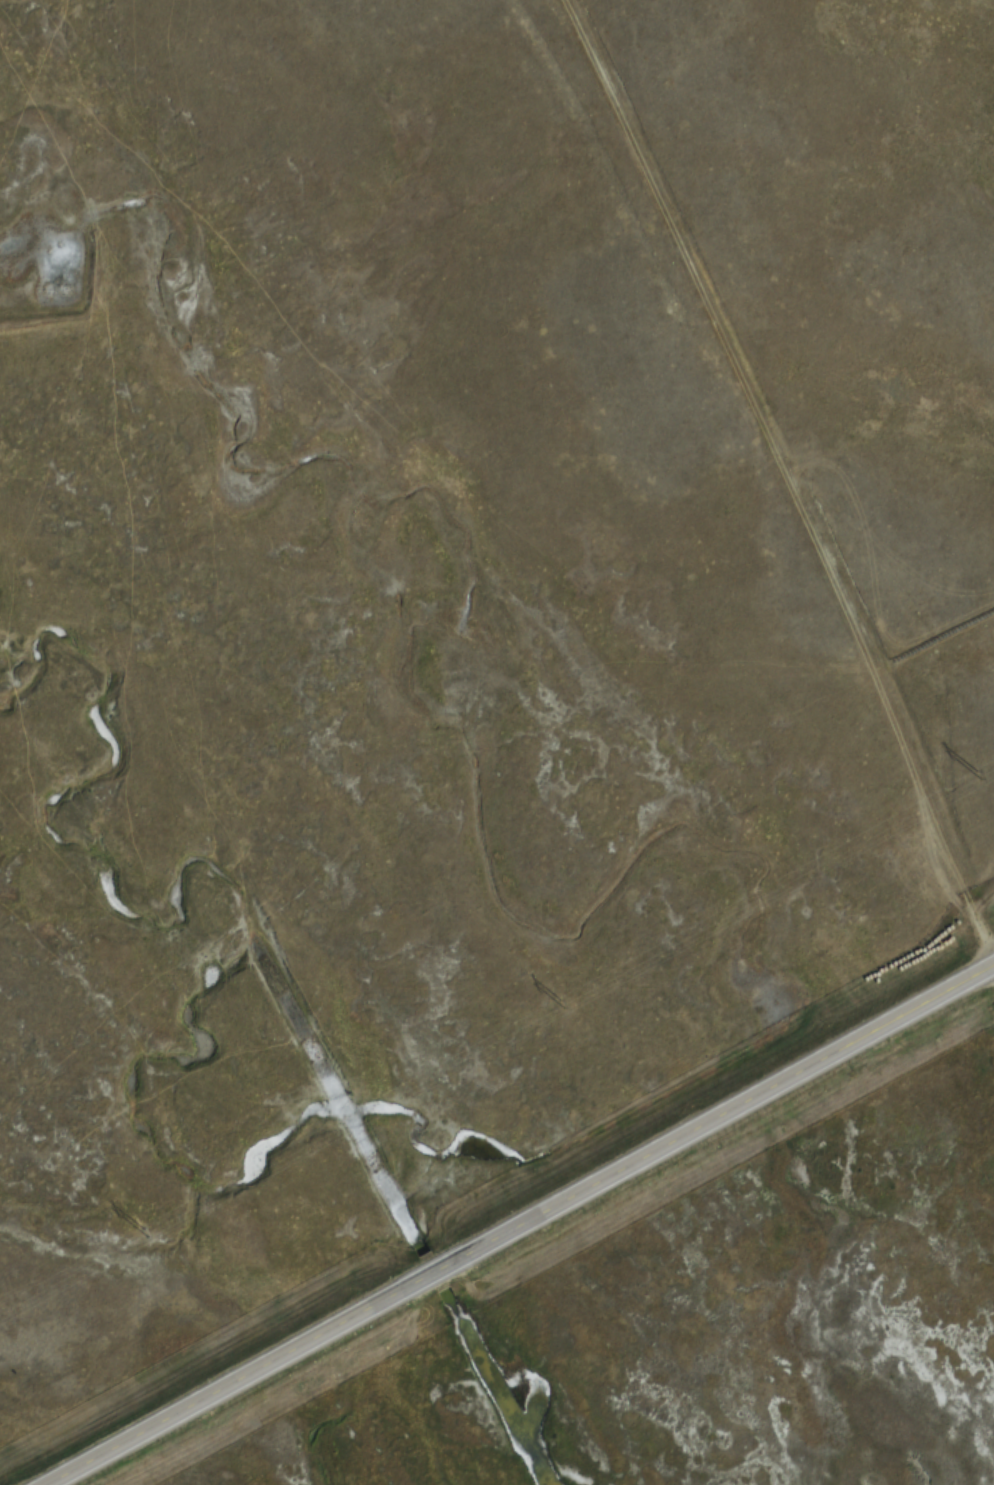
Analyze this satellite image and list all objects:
road: (729, 490)
power tower: (978, 775)
power tower: (562, 1004)
road: (523, 1226)
power tower: (144, 1235)

